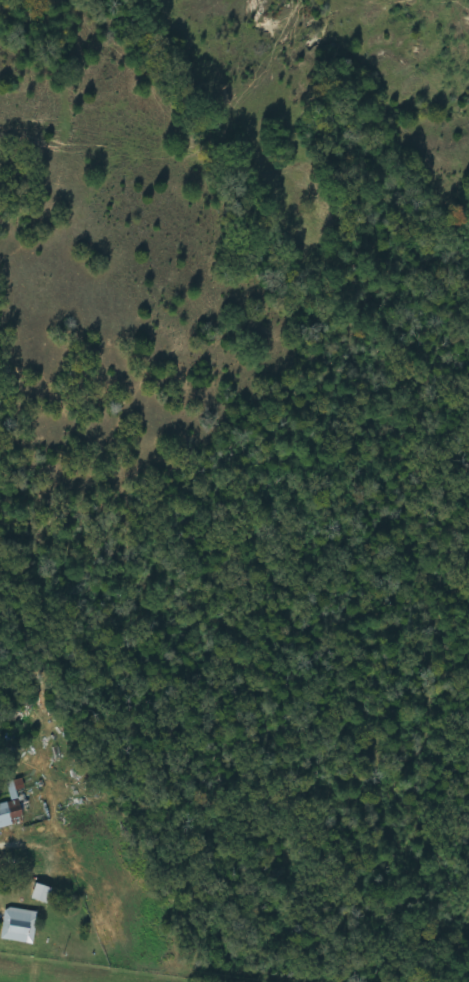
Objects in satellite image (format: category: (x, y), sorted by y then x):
building: (12, 805)
building: (44, 894)
building: (21, 926)

